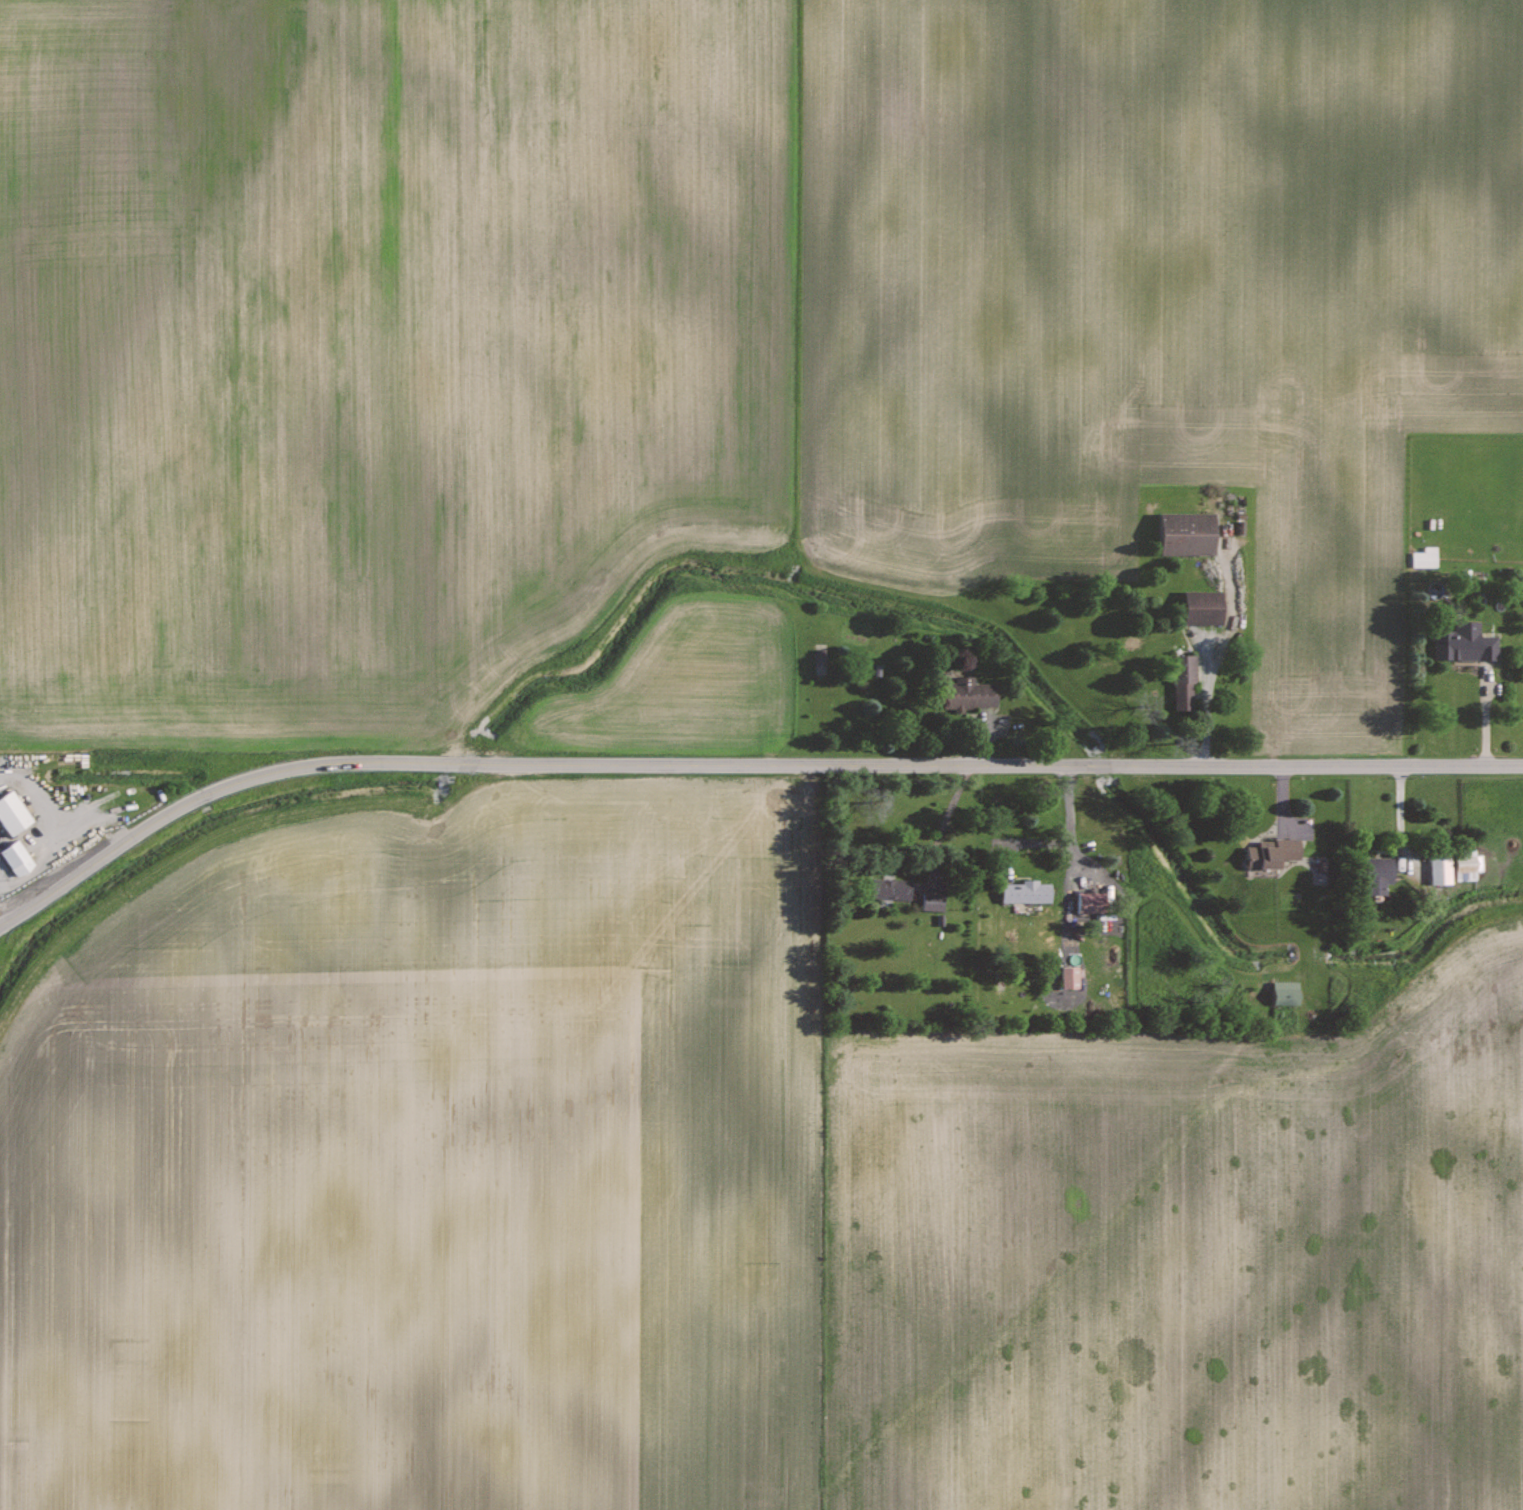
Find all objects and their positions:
building: (1189, 533)
building: (1425, 557)
building: (1205, 607)
building: (1466, 643)
building: (1184, 682)
building: (971, 693)
road: (740, 764)
building: (13, 813)
road: (943, 823)
road: (1062, 844)
building: (1273, 853)
building: (17, 858)
building: (1469, 866)
building: (1441, 869)
building: (1380, 874)
building: (891, 888)
building: (1026, 892)
building: (933, 901)
building: (1088, 903)
building: (1070, 977)
building: (1287, 993)

